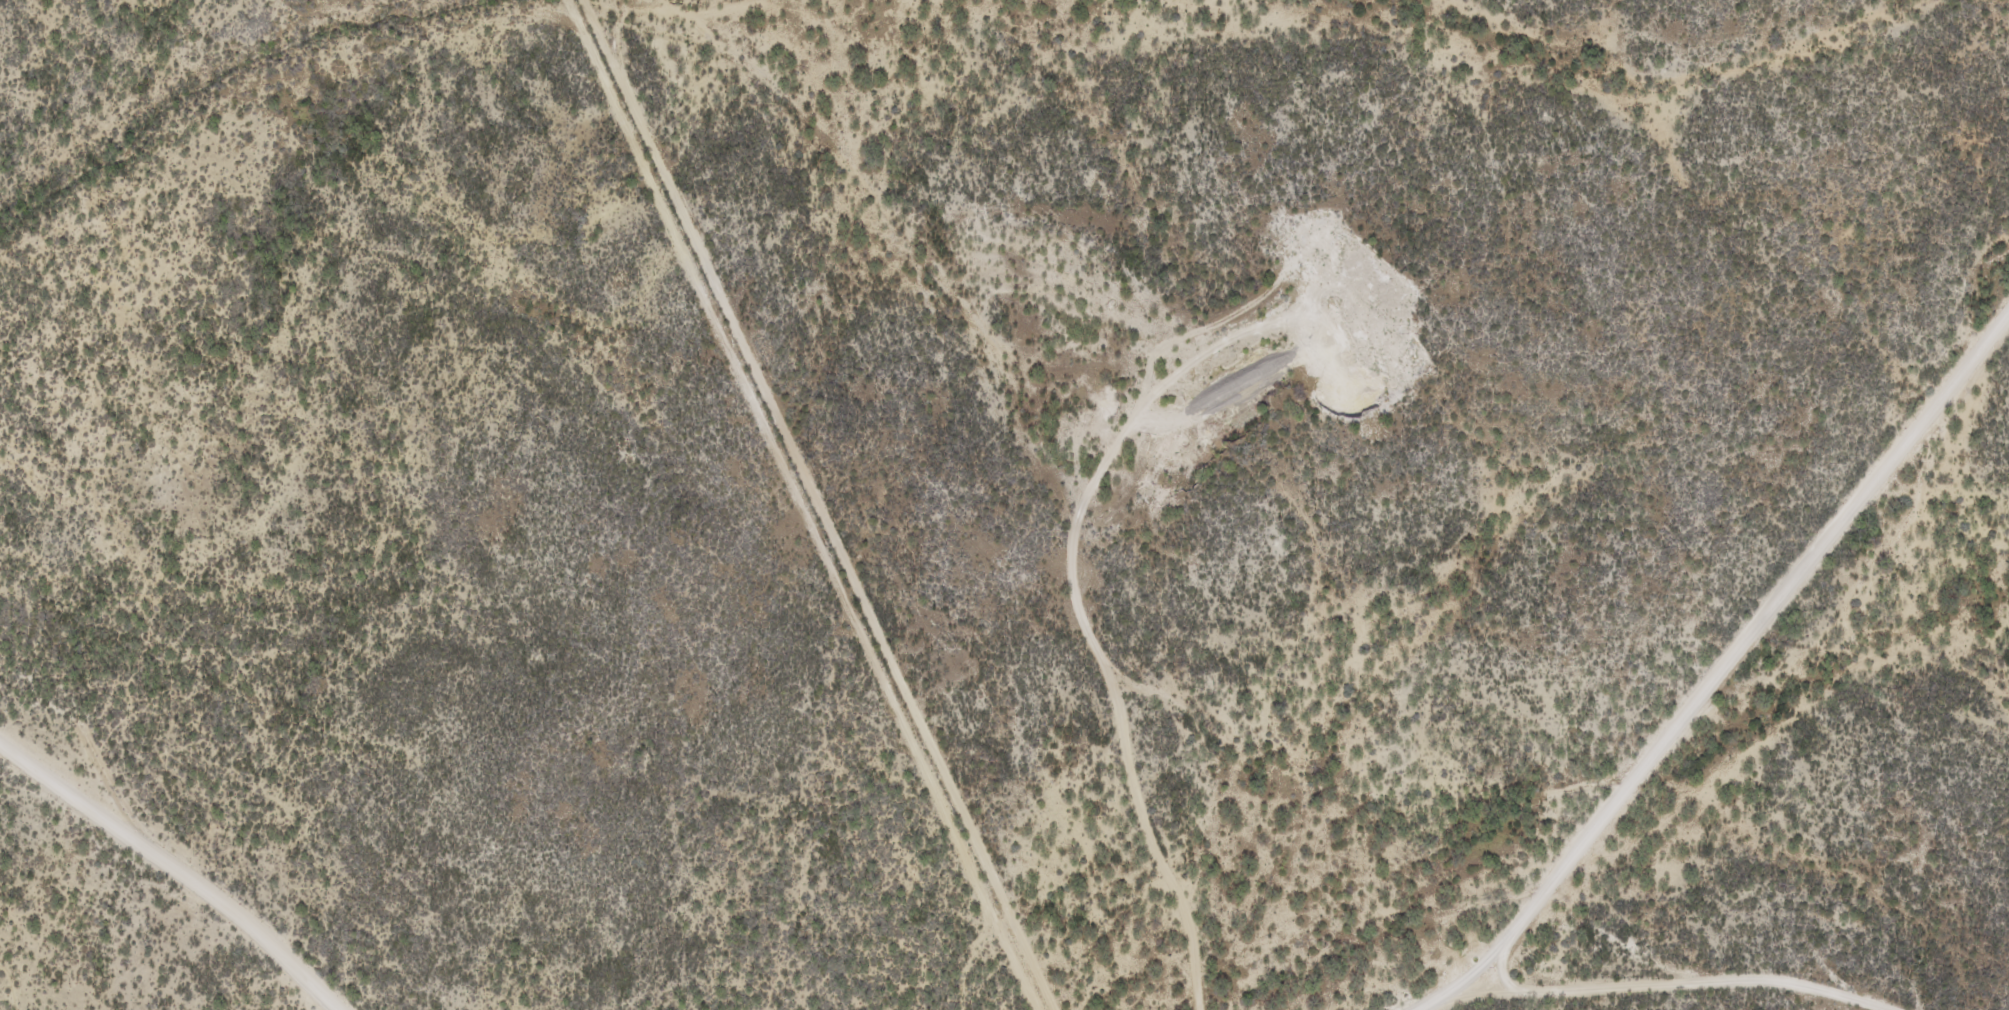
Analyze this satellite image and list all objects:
road: (827, 505)
road: (1727, 660)
road: (178, 867)
road: (1688, 979)

